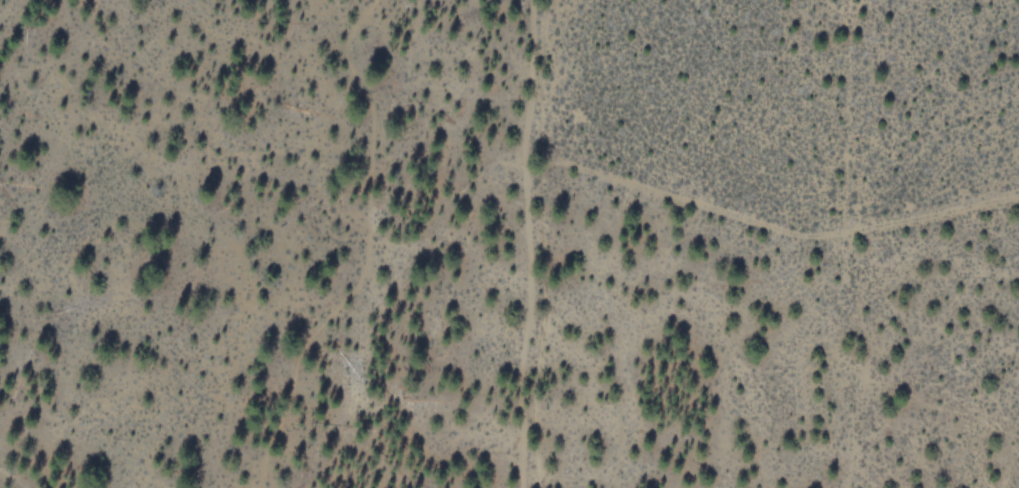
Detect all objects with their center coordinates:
road: (522, 244)

